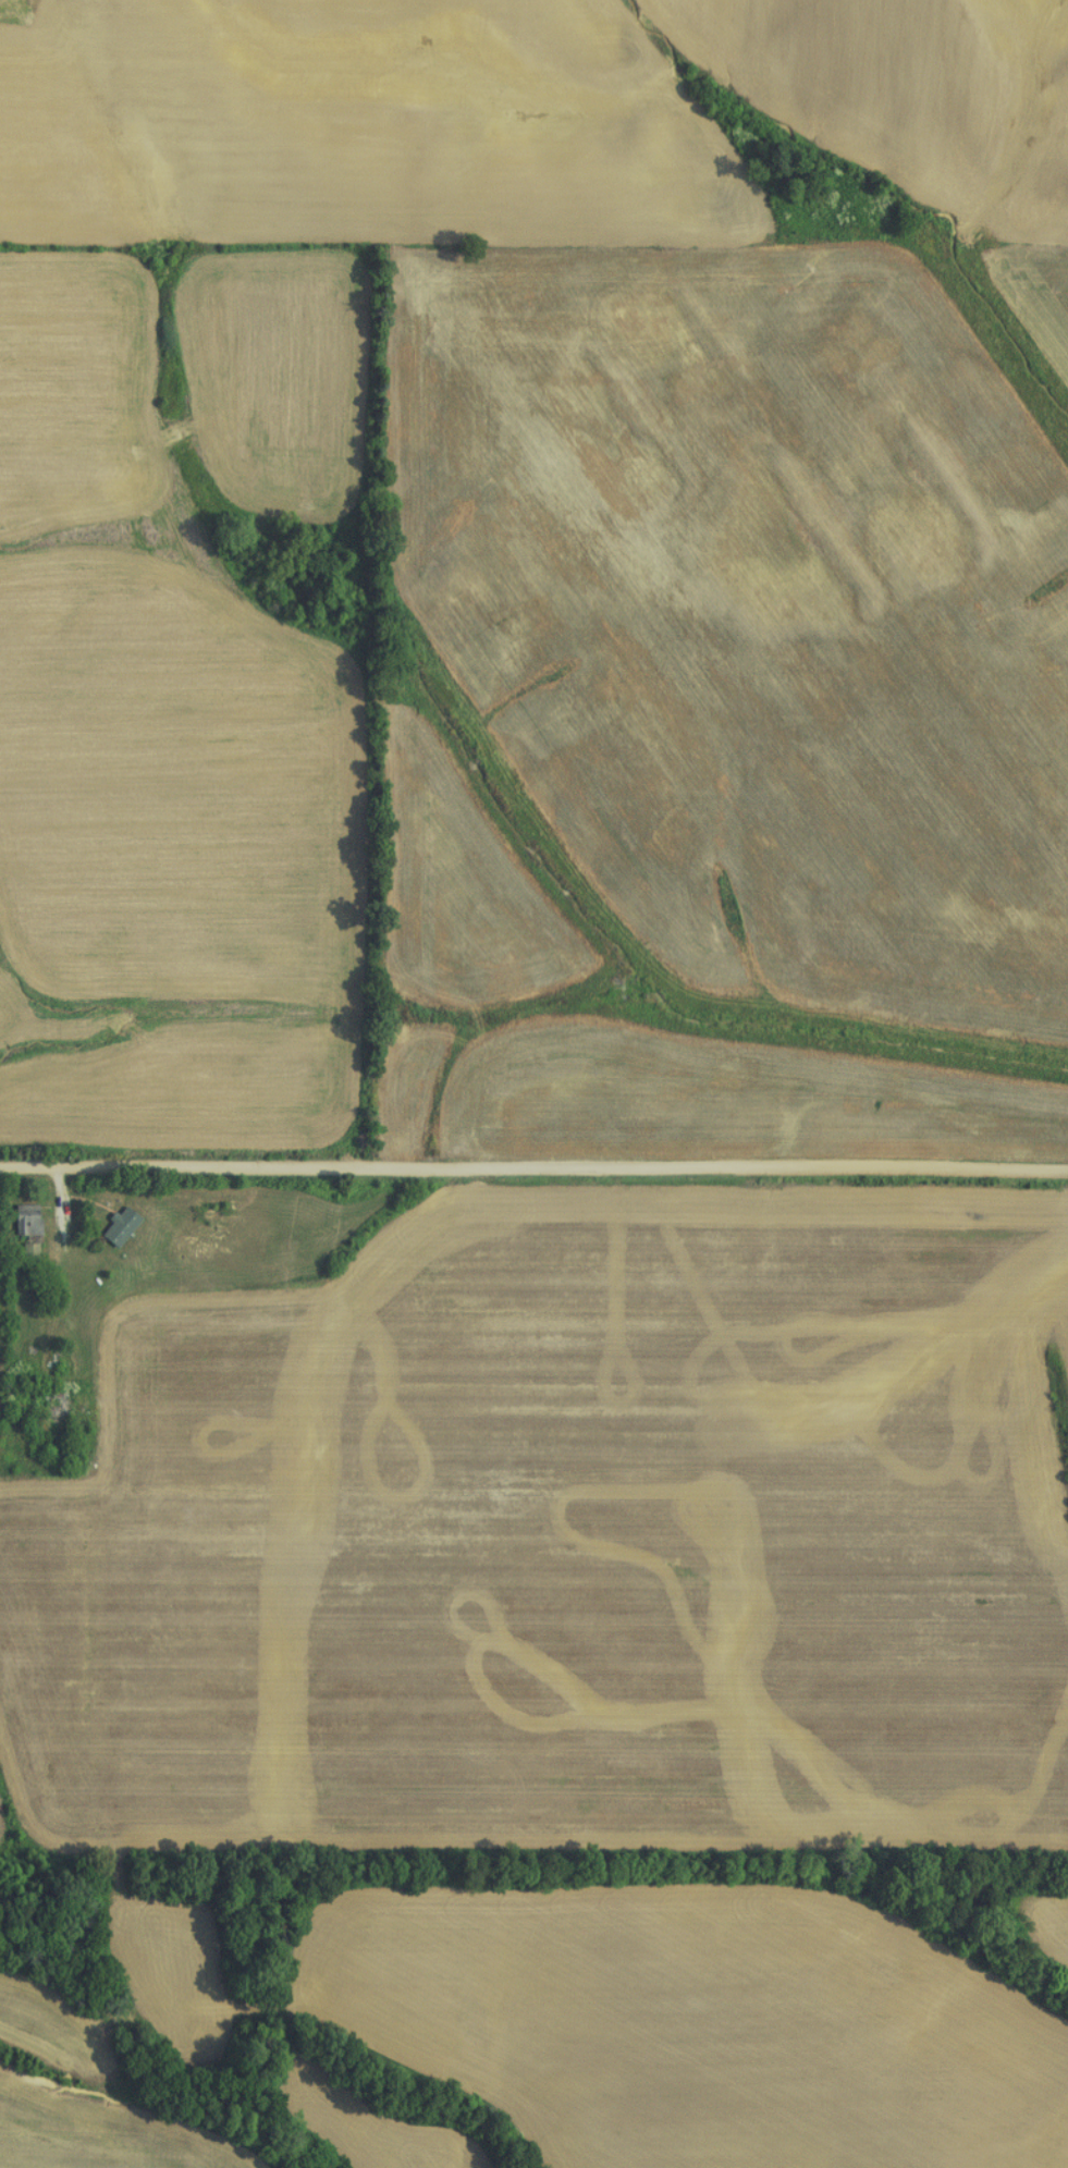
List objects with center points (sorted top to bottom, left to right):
road: (533, 1171)
building: (21, 1221)
building: (114, 1228)
building: (24, 1254)
building: (42, 1404)

